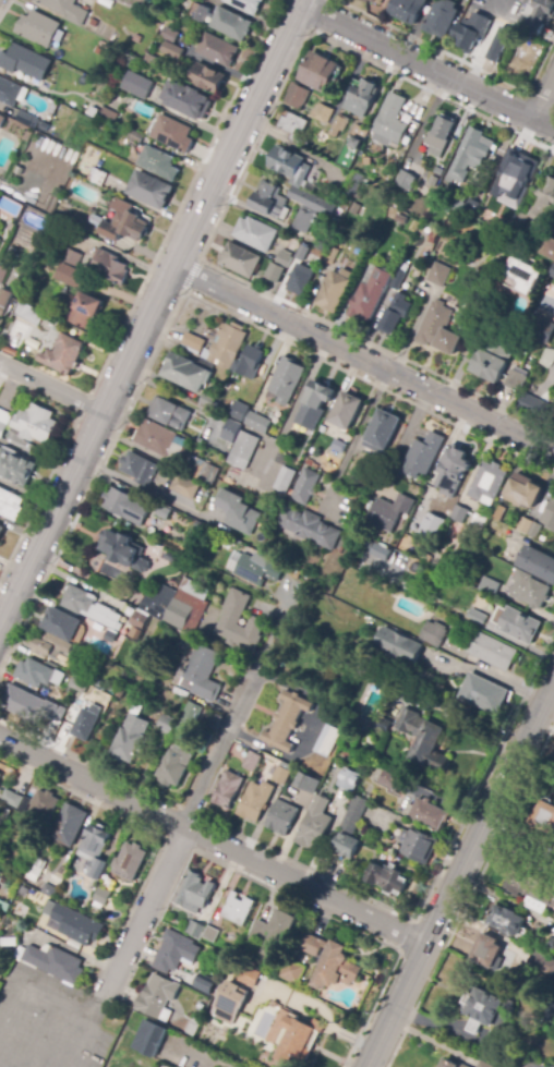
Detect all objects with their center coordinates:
building: (121, 0)
building: (368, 1)
road: (302, 3)
building: (248, 4)
building: (67, 10)
building: (408, 10)
building: (201, 12)
building: (540, 12)
building: (441, 17)
building: (232, 24)
building: (38, 28)
building: (471, 33)
building: (170, 35)
building: (502, 41)
building: (173, 50)
building: (219, 50)
road: (459, 58)
building: (153, 60)
building: (25, 62)
road: (427, 68)
building: (322, 72)
building: (209, 78)
building: (138, 85)
building: (9, 93)
building: (298, 96)
building: (362, 97)
building: (188, 99)
road: (544, 100)
building: (55, 108)
building: (324, 113)
building: (109, 114)
building: (27, 119)
building: (1, 120)
building: (390, 121)
building: (45, 125)
building: (340, 125)
building: (296, 126)
building: (176, 133)
building: (136, 136)
building: (439, 136)
building: (354, 146)
building: (472, 155)
building: (159, 163)
building: (291, 166)
building: (97, 177)
building: (407, 180)
building: (515, 180)
building: (350, 183)
building: (2, 186)
building: (150, 191)
building: (422, 198)
road: (228, 202)
building: (270, 202)
building: (540, 206)
building: (459, 207)
building: (471, 208)
building: (309, 209)
building: (65, 211)
building: (94, 219)
building: (124, 222)
building: (256, 234)
building: (433, 238)
building: (323, 243)
building: (549, 246)
building: (302, 254)
building: (332, 254)
building: (70, 256)
building: (285, 258)
building: (241, 259)
building: (110, 267)
building: (3, 268)
building: (553, 271)
building: (275, 272)
road: (192, 275)
building: (438, 275)
building: (71, 276)
building: (518, 278)
building: (300, 279)
building: (401, 282)
building: (334, 290)
building: (371, 293)
road: (181, 296)
building: (5, 301)
building: (546, 304)
building: (83, 308)
building: (29, 314)
road: (148, 314)
building: (395, 314)
building: (438, 329)
building: (539, 329)
building: (194, 342)
building: (227, 345)
road: (471, 351)
building: (64, 354)
road: (363, 360)
building: (491, 362)
building: (250, 363)
building: (185, 373)
building: (517, 379)
building: (287, 380)
road: (50, 386)
building: (209, 401)
building: (315, 404)
building: (537, 407)
building: (240, 411)
building: (347, 411)
building: (171, 414)
building: (4, 422)
building: (258, 423)
building: (35, 424)
building: (383, 431)
building: (232, 432)
building: (156, 438)
building: (20, 442)
building: (244, 450)
building: (423, 454)
building: (15, 468)
building: (140, 469)
building: (454, 472)
building: (203, 473)
building: (286, 474)
building: (489, 483)
building: (186, 487)
building: (306, 487)
road: (144, 489)
building: (523, 493)
building: (10, 505)
building: (128, 506)
building: (164, 512)
building: (239, 512)
building: (273, 512)
building: (390, 512)
building: (498, 512)
building: (550, 513)
building: (460, 514)
building: (362, 524)
building: (479, 524)
building: (432, 525)
building: (525, 525)
building: (310, 528)
building: (535, 530)
building: (1, 531)
building: (454, 531)
building: (123, 549)
building: (380, 551)
building: (426, 558)
building: (538, 562)
building: (255, 568)
road: (79, 583)
building: (490, 585)
building: (529, 590)
building: (106, 601)
building: (93, 608)
building: (180, 608)
building: (141, 619)
building: (231, 619)
building: (62, 625)
building: (519, 626)
building: (433, 633)
building: (162, 640)
building: (53, 647)
building: (400, 647)
building: (491, 651)
building: (200, 674)
building: (81, 675)
building: (46, 676)
building: (483, 693)
building: (32, 706)
building: (190, 717)
building: (84, 722)
building: (287, 722)
building: (168, 725)
building: (384, 725)
building: (129, 738)
building: (327, 740)
building: (423, 740)
building: (252, 761)
road: (89, 762)
building: (173, 765)
building: (1, 776)
building: (280, 776)
building: (349, 779)
building: (389, 779)
building: (0, 784)
building: (306, 784)
building: (228, 790)
building: (16, 801)
building: (255, 801)
building: (45, 803)
road: (188, 811)
building: (541, 811)
building: (4, 812)
building: (354, 814)
building: (429, 814)
building: (282, 817)
building: (314, 824)
building: (70, 825)
road: (182, 837)
road: (214, 841)
building: (419, 845)
road: (518, 846)
building: (346, 847)
building: (96, 849)
building: (129, 860)
building: (36, 869)
road: (461, 874)
building: (386, 878)
road: (432, 884)
building: (49, 889)
building: (530, 892)
building: (195, 893)
building: (101, 896)
building: (3, 906)
building: (239, 910)
building: (507, 921)
building: (70, 922)
building: (194, 929)
building: (210, 934)
building: (273, 934)
building: (11, 942)
building: (551, 943)
building: (173, 951)
building: (489, 953)
building: (330, 962)
building: (52, 963)
building: (541, 963)
building: (293, 971)
building: (251, 975)
building: (205, 983)
road: (63, 995)
building: (155, 995)
building: (230, 1002)
building: (487, 1010)
building: (552, 1014)
parking lot: (49, 1022)
building: (190, 1028)
road: (48, 1031)
road: (463, 1035)
building: (293, 1038)
building: (149, 1039)
building: (450, 1064)
building: (483, 1065)

